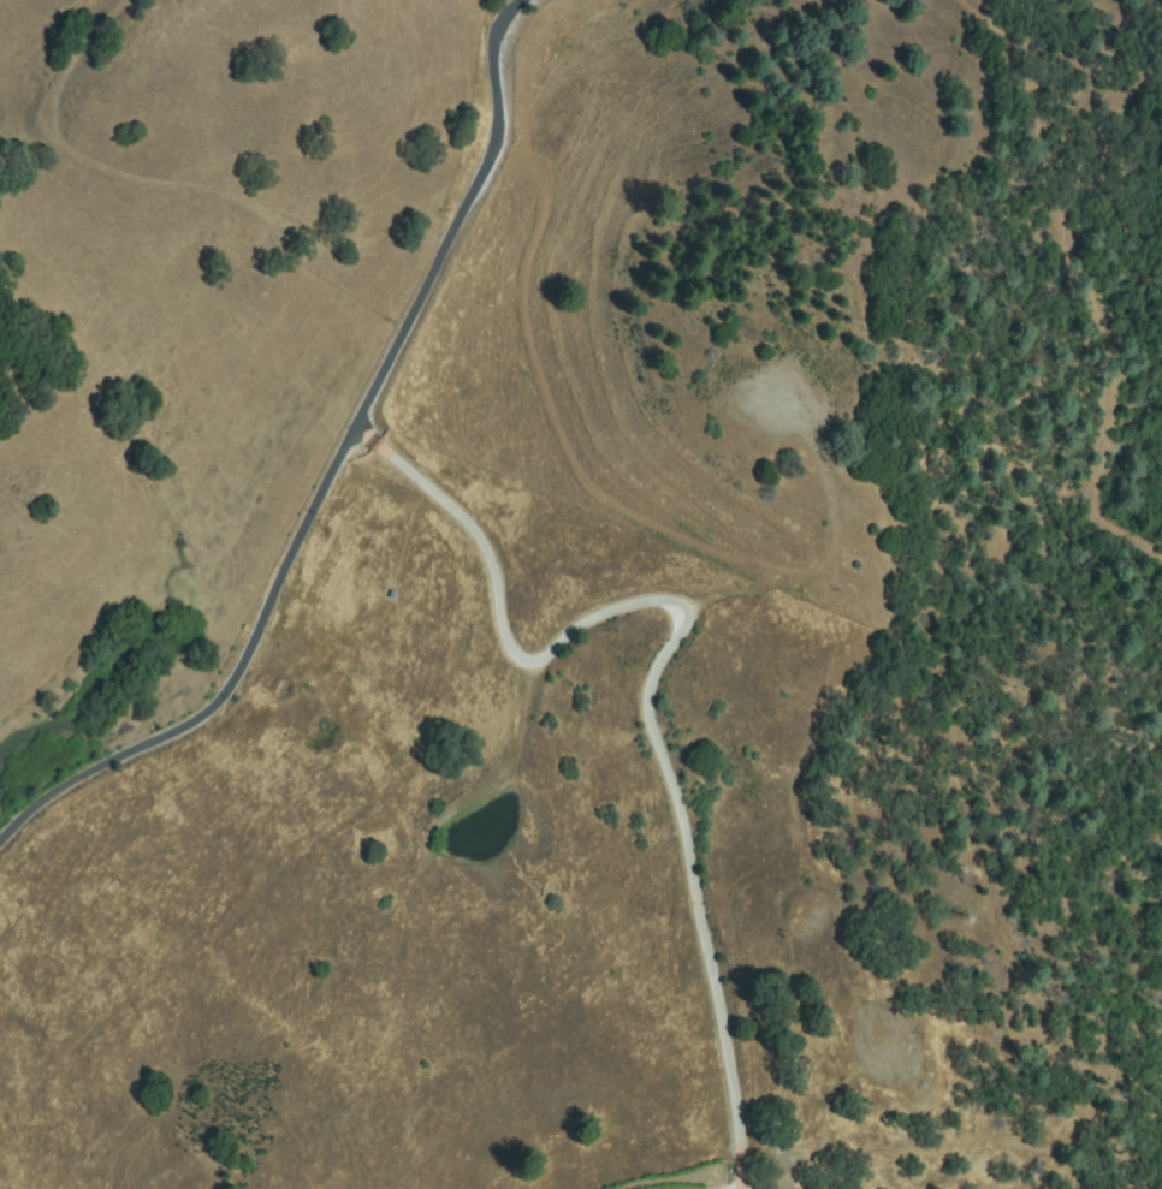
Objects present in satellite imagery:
building: (773, 377)
road: (333, 471)

